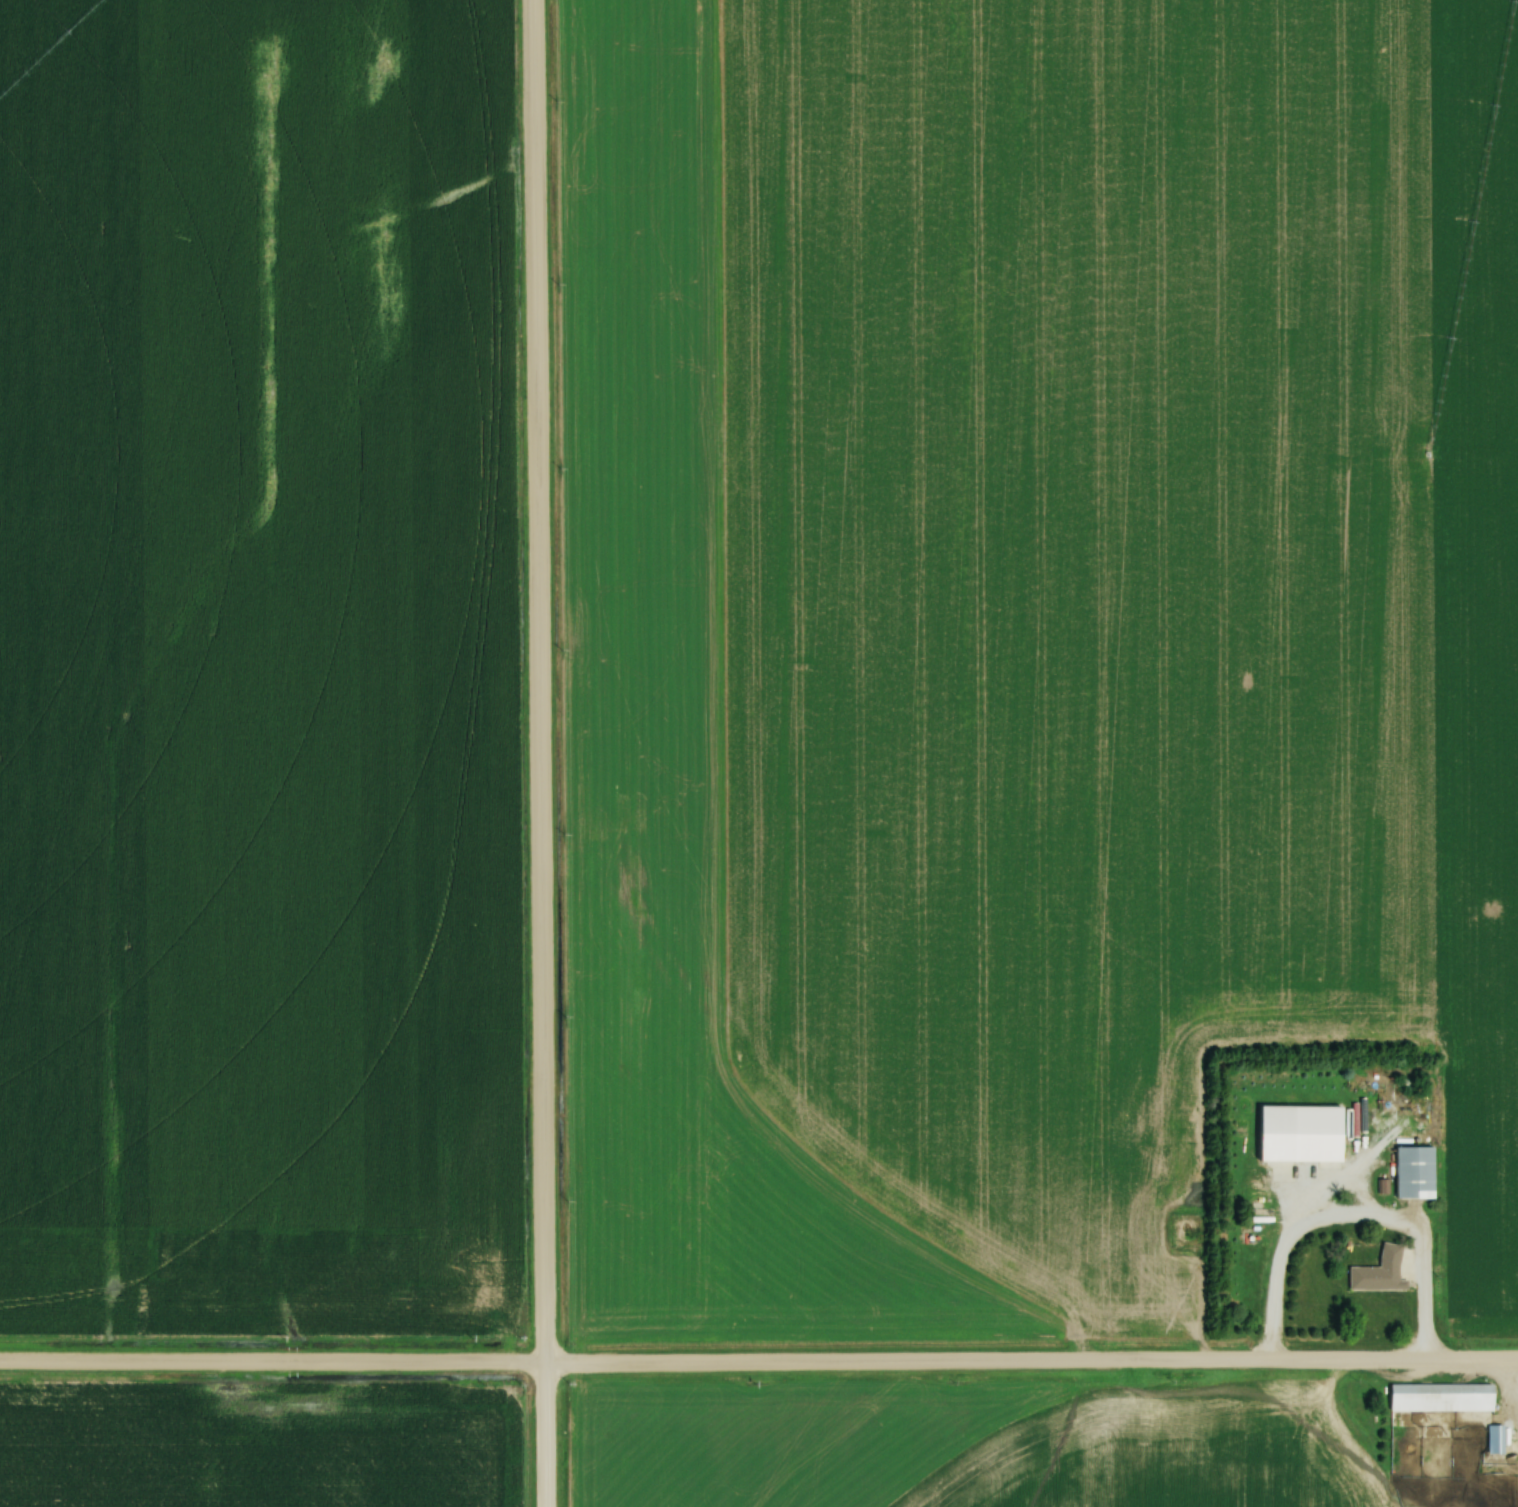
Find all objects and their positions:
road: (539, 753)
building: (1416, 1172)
road: (1351, 1219)
building: (1382, 1271)
road: (758, 1366)
building: (1445, 1397)
building: (1498, 1439)

